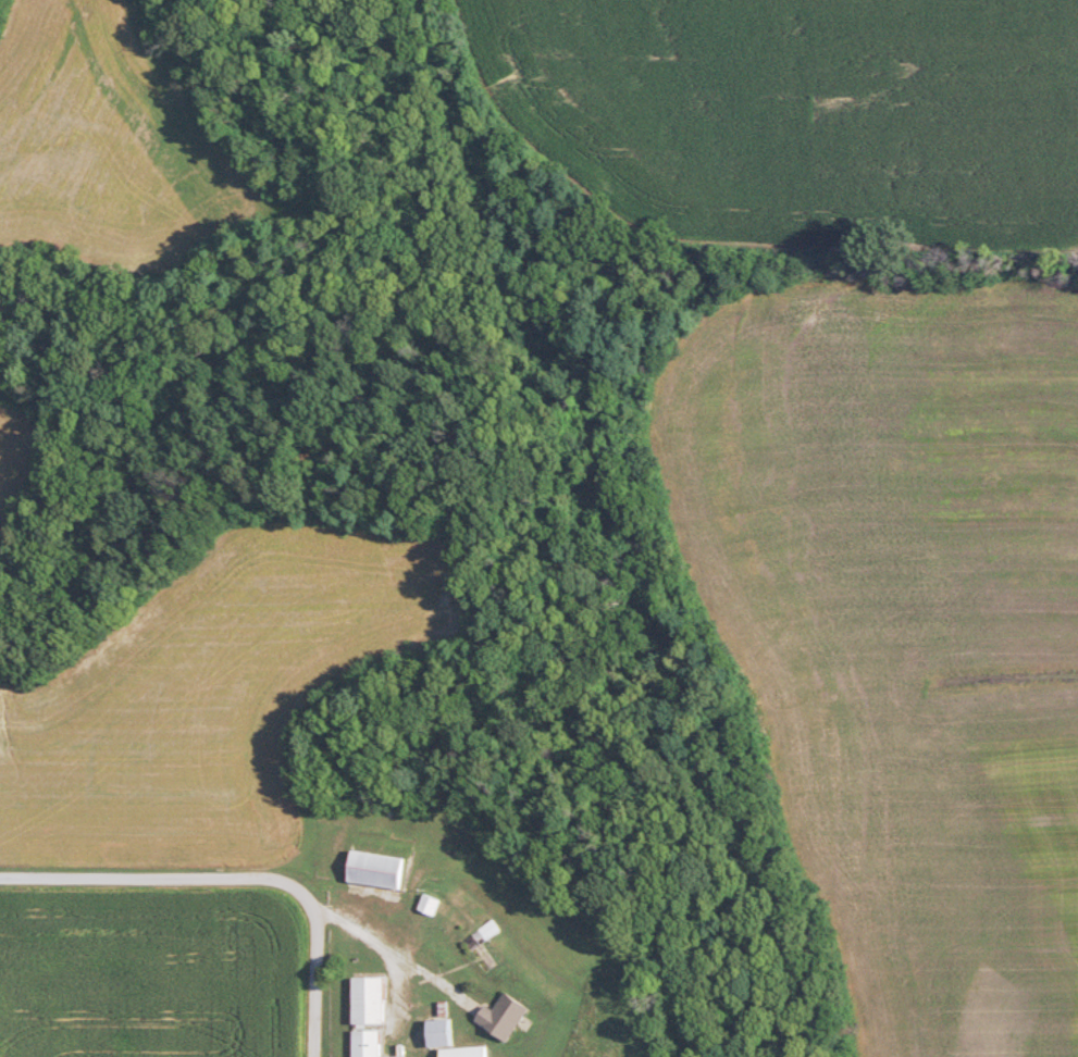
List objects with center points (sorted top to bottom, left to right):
building: (382, 868)
road: (157, 878)
road: (313, 978)
building: (508, 1014)
building: (373, 1015)
building: (444, 1031)
building: (469, 1050)

